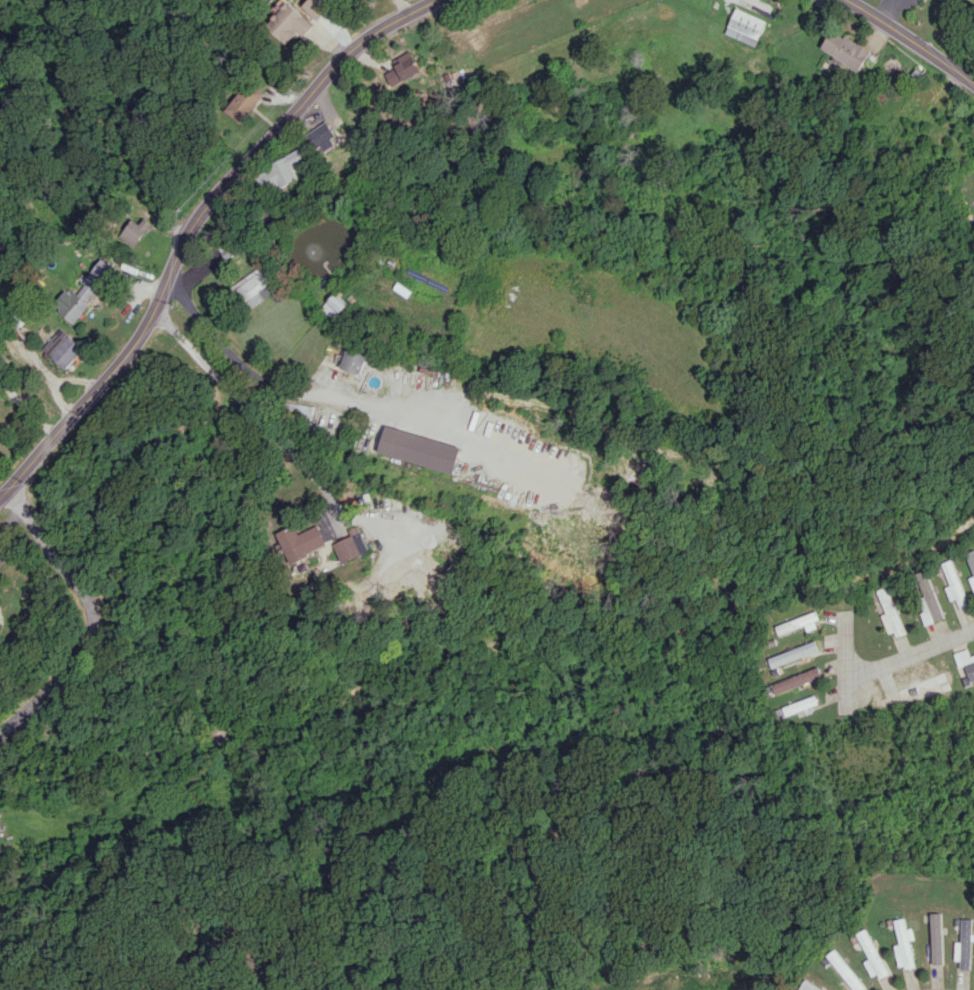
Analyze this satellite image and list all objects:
building: (286, 23)
building: (743, 26)
road: (914, 39)
building: (845, 49)
building: (403, 69)
building: (242, 101)
building: (323, 137)
building: (279, 171)
road: (200, 224)
building: (134, 231)
building: (255, 287)
building: (82, 292)
building: (333, 306)
building: (62, 348)
building: (353, 361)
road: (301, 399)
road: (243, 408)
building: (301, 410)
building: (421, 449)
building: (302, 541)
building: (353, 545)
building: (971, 564)
building: (954, 585)
building: (927, 598)
building: (890, 613)
road: (97, 616)
building: (799, 623)
road: (911, 657)
road: (846, 662)
building: (965, 663)
building: (796, 680)
building: (917, 689)
building: (799, 705)
building: (936, 938)
building: (903, 944)
building: (964, 944)
building: (871, 955)
building: (845, 972)
building: (807, 986)

